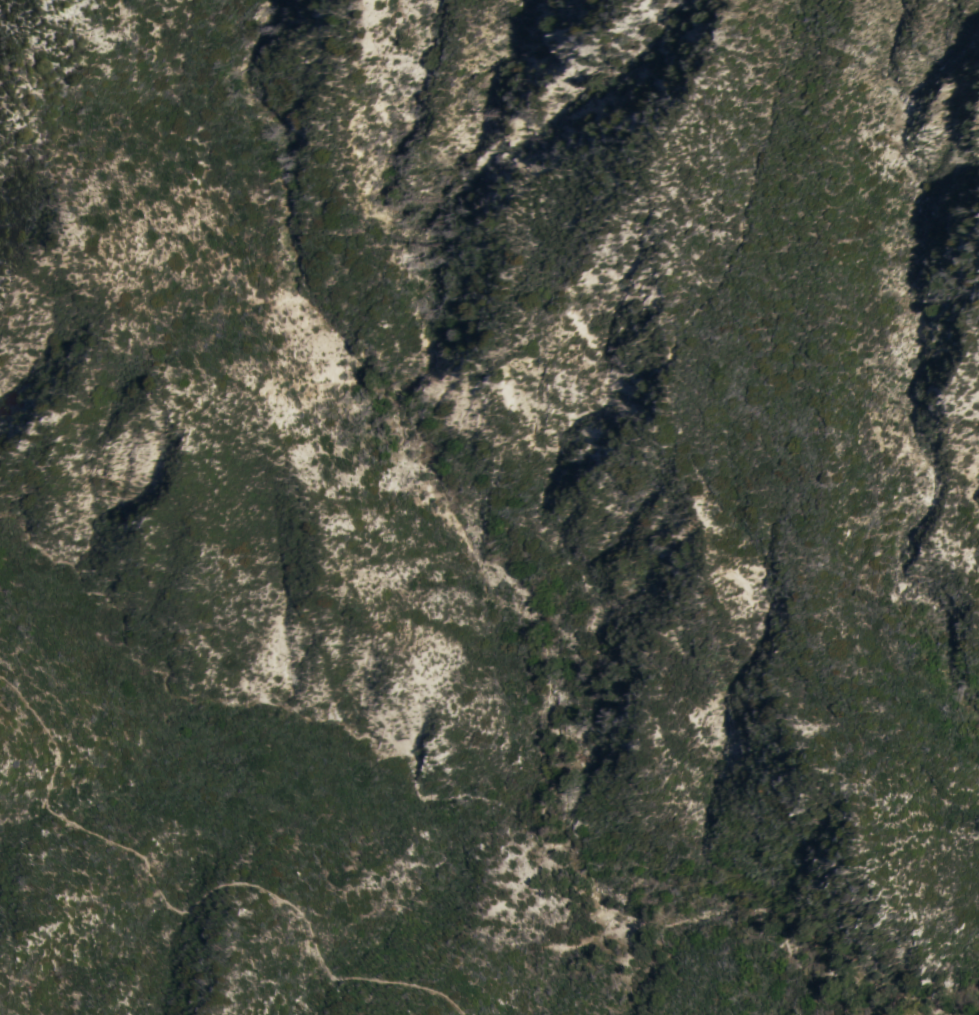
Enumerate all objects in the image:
road: (187, 900)

